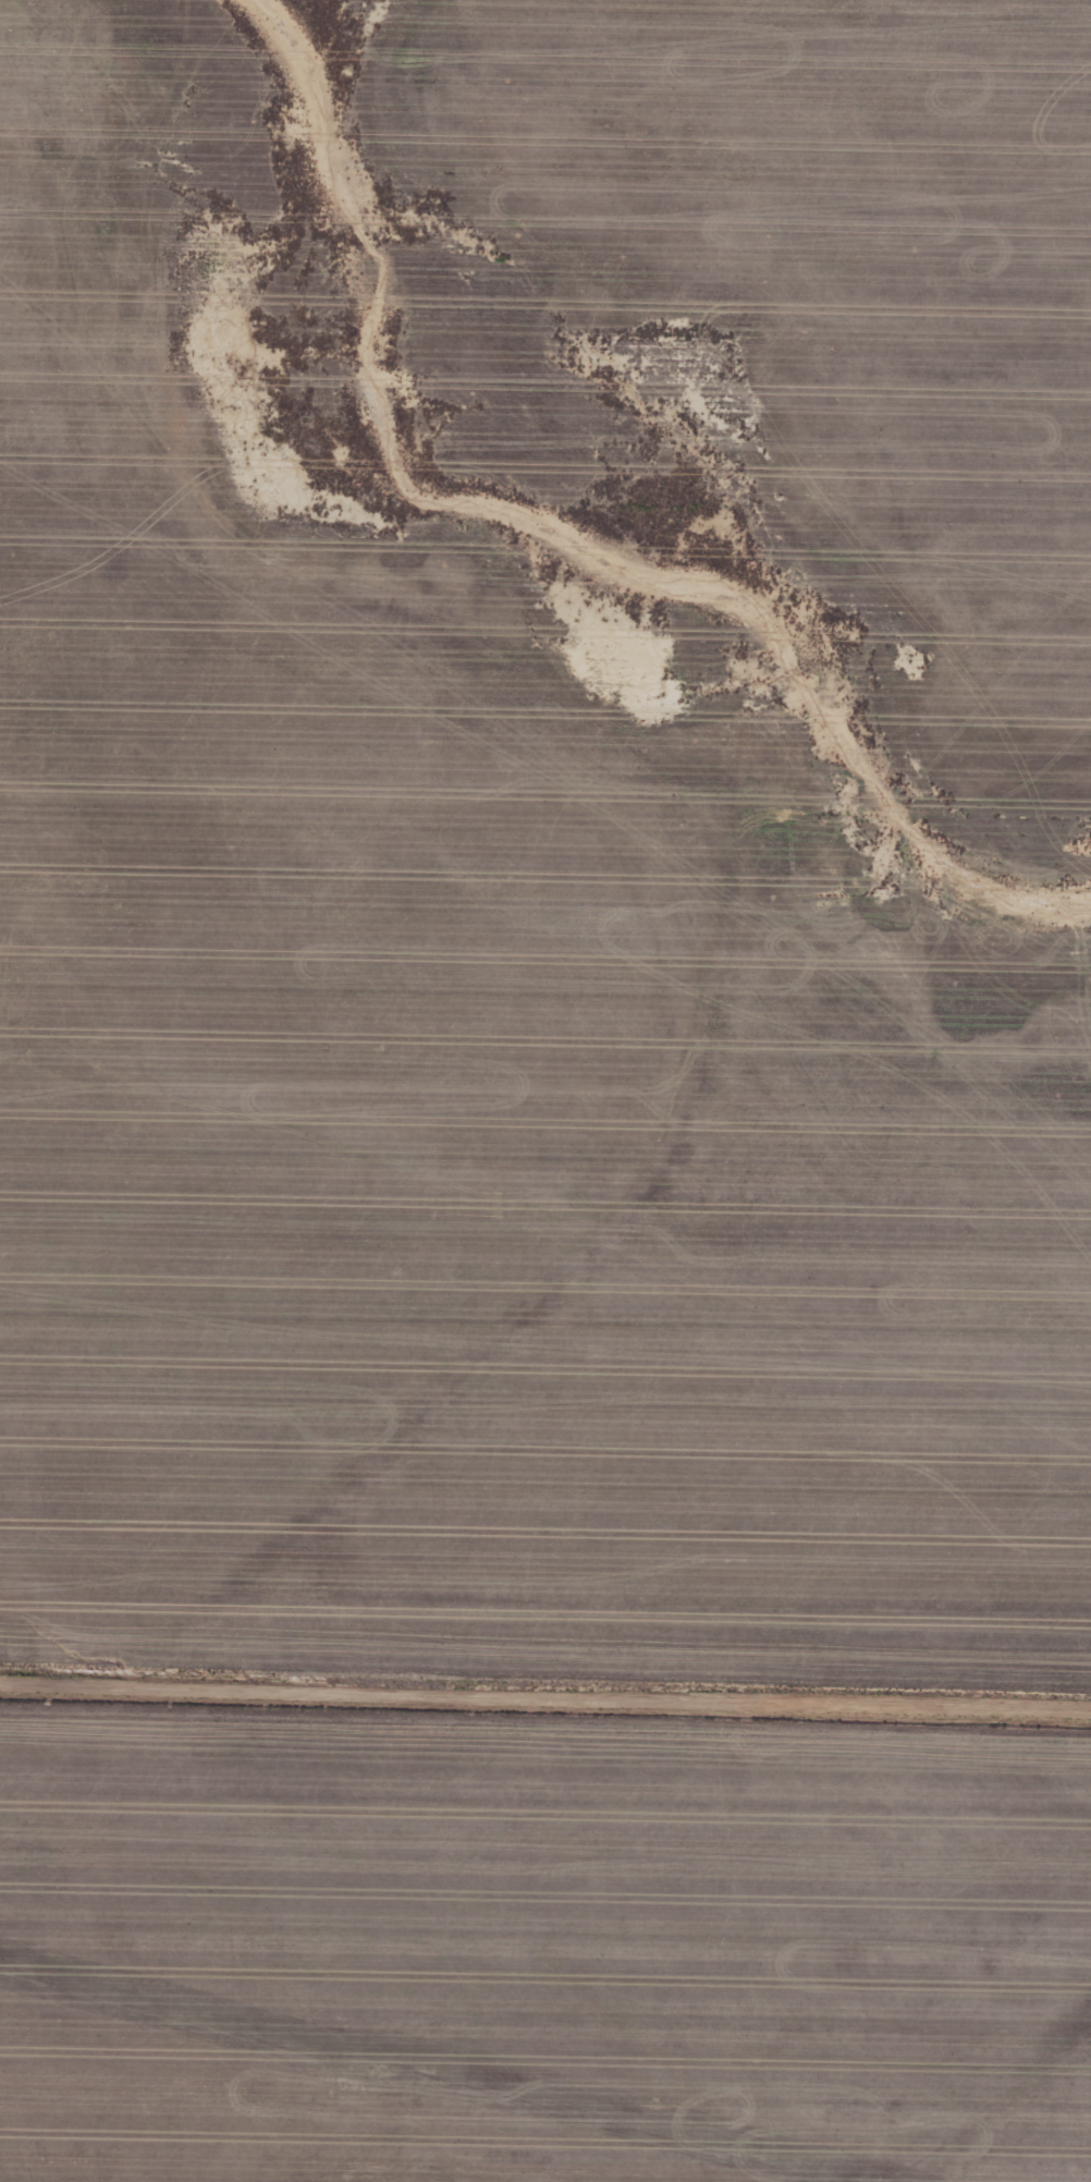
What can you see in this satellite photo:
road: (545, 1691)

